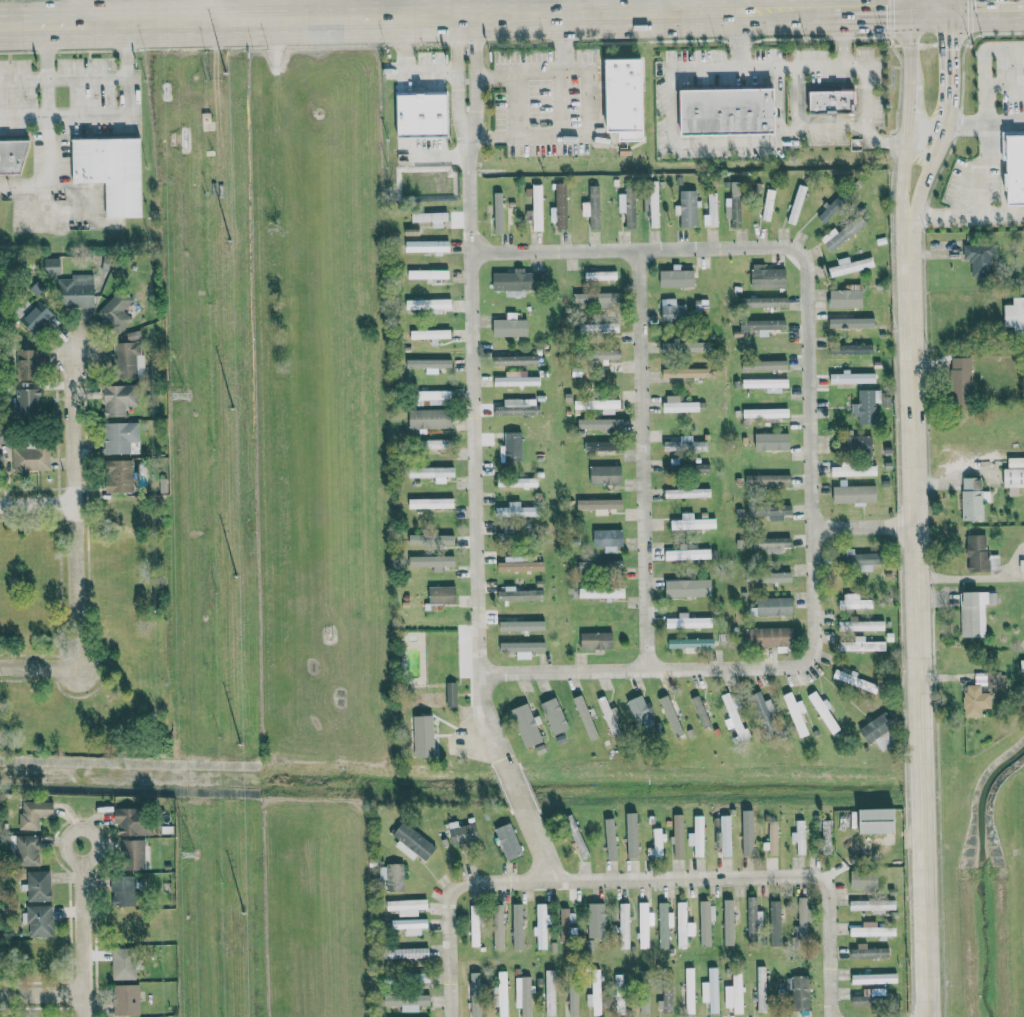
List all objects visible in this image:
road: (911, 3)
road: (947, 3)
road: (809, 5)
road: (986, 5)
road: (580, 6)
road: (660, 6)
road: (930, 6)
road: (860, 7)
road: (421, 8)
road: (773, 10)
road: (77, 13)
road: (367, 17)
road: (910, 37)
road: (948, 52)
road: (789, 65)
road: (983, 65)
road: (706, 68)
road: (411, 69)
road: (47, 70)
road: (559, 73)
road: (64, 75)
road: (1004, 85)
building: (624, 96)
road: (907, 96)
road: (589, 102)
building: (832, 102)
road: (778, 103)
road: (516, 104)
road: (864, 110)
building: (729, 112)
road: (107, 115)
building: (423, 116)
road: (983, 124)
road: (798, 128)
road: (787, 134)
road: (689, 141)
building: (13, 157)
road: (934, 160)
building: (1014, 165)
road: (46, 170)
building: (111, 172)
road: (902, 172)
building: (734, 203)
building: (796, 204)
building: (768, 205)
building: (561, 206)
building: (592, 207)
building: (627, 208)
building: (654, 208)
road: (982, 208)
building: (536, 209)
building: (687, 209)
building: (831, 209)
building: (711, 210)
building: (498, 212)
building: (431, 219)
building: (835, 238)
building: (428, 247)
road: (635, 249)
building: (979, 259)
building: (105, 264)
building: (51, 265)
building: (850, 266)
building: (428, 274)
building: (767, 277)
building: (677, 278)
building: (517, 281)
building: (76, 290)
building: (597, 298)
building: (845, 298)
building: (764, 301)
building: (428, 303)
building: (115, 310)
building: (673, 311)
building: (37, 316)
building: (1015, 316)
building: (845, 321)
building: (763, 323)
building: (510, 327)
building: (598, 327)
building: (431, 334)
building: (683, 346)
building: (851, 348)
building: (602, 352)
building: (129, 356)
building: (514, 360)
building: (29, 363)
building: (429, 364)
building: (764, 364)
building: (685, 372)
building: (853, 377)
building: (516, 379)
building: (961, 379)
building: (767, 383)
road: (472, 390)
power tower: (177, 395)
building: (430, 397)
building: (119, 398)
building: (29, 400)
building: (598, 404)
building: (679, 404)
building: (517, 406)
building: (865, 406)
building: (766, 412)
building: (430, 418)
building: (600, 423)
building: (120, 436)
building: (768, 437)
building: (433, 443)
building: (683, 444)
building: (858, 444)
building: (603, 445)
building: (513, 446)
road: (809, 456)
building: (31, 457)
building: (1, 459)
road: (641, 459)
building: (853, 470)
building: (433, 472)
building: (605, 474)
building: (119, 475)
building: (1013, 477)
building: (768, 480)
building: (517, 482)
building: (687, 493)
building: (854, 493)
building: (972, 498)
building: (431, 503)
road: (35, 504)
building: (599, 505)
road: (71, 509)
building: (516, 510)
building: (769, 511)
building: (693, 522)
road: (864, 526)
building: (431, 539)
building: (608, 539)
building: (764, 543)
building: (977, 552)
building: (688, 554)
building: (860, 559)
building: (432, 561)
building: (518, 564)
building: (772, 576)
building: (688, 587)
building: (602, 592)
building: (442, 594)
building: (519, 594)
building: (854, 602)
building: (772, 606)
building: (974, 612)
road: (918, 617)
building: (688, 621)
building: (860, 625)
building: (770, 637)
building: (597, 640)
building: (691, 643)
building: (861, 645)
building: (522, 646)
building: (1023, 662)
road: (40, 669)
road: (644, 670)
building: (975, 700)
building: (757, 710)
building: (701, 711)
building: (639, 712)
building: (796, 713)
building: (824, 713)
building: (554, 715)
building: (732, 715)
building: (671, 716)
building: (611, 725)
building: (876, 727)
building: (425, 739)
road: (514, 787)
building: (35, 813)
building: (875, 820)
building: (134, 821)
building: (461, 833)
building: (677, 835)
building: (724, 835)
building: (697, 836)
building: (773, 837)
building: (799, 837)
building: (747, 838)
building: (657, 840)
building: (508, 841)
building: (412, 842)
road: (539, 846)
building: (27, 850)
power tower: (188, 853)
building: (133, 854)
building: (393, 876)
road: (637, 878)
building: (863, 880)
building: (38, 886)
building: (124, 890)
building: (871, 905)
building: (406, 906)
building: (752, 919)
building: (38, 920)
building: (804, 920)
building: (705, 921)
building: (728, 922)
building: (774, 923)
building: (566, 924)
building: (664, 924)
building: (410, 925)
building: (474, 925)
building: (541, 925)
building: (624, 925)
building: (643, 925)
building: (682, 925)
building: (517, 926)
building: (498, 927)
road: (82, 929)
building: (871, 930)
road: (828, 947)
road: (447, 950)
building: (868, 951)
building: (410, 953)
building: (123, 964)
building: (873, 978)
building: (761, 989)
building: (689, 990)
building: (711, 990)
building: (736, 990)
building: (798, 991)
building: (550, 992)
road: (41, 993)
building: (475, 994)
building: (523, 995)
building: (594, 996)
building: (496, 997)
building: (873, 998)
building: (126, 999)
building: (665, 999)
building: (407, 1001)
building: (617, 1001)

